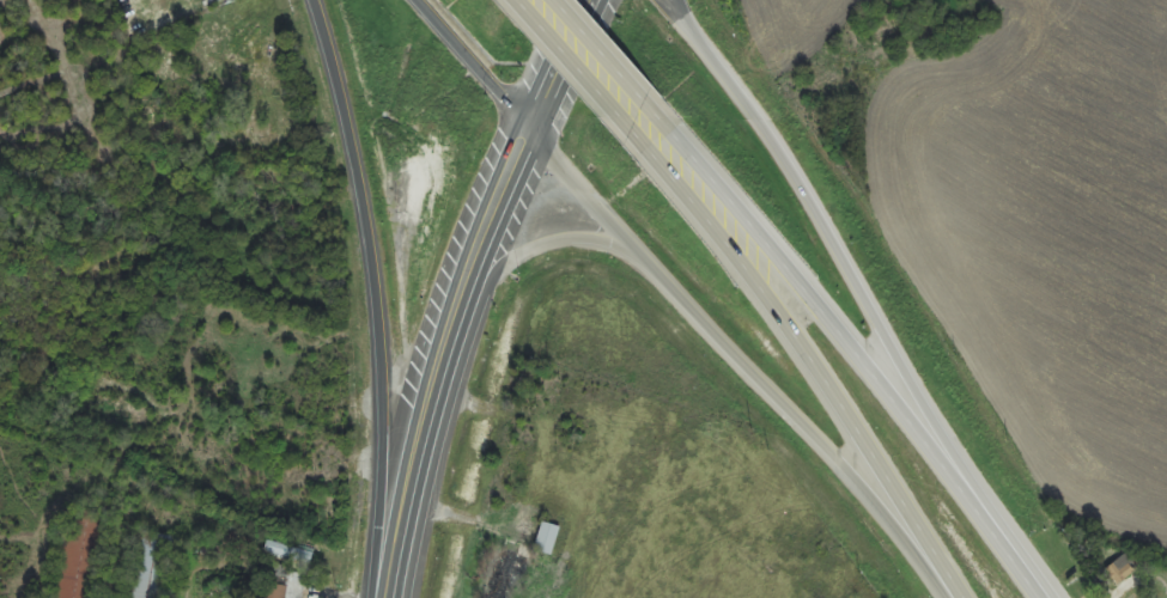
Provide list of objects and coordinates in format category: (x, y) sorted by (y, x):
road: (676, 7)
road: (601, 49)
road: (573, 65)
road: (524, 153)
road: (542, 245)
road: (837, 246)
road: (370, 267)
road: (683, 298)
road: (817, 301)
road: (808, 354)
road: (418, 452)
building: (547, 538)
building: (287, 551)
building: (81, 554)
road: (1013, 555)
building: (153, 566)
building: (1120, 569)
building: (278, 591)

